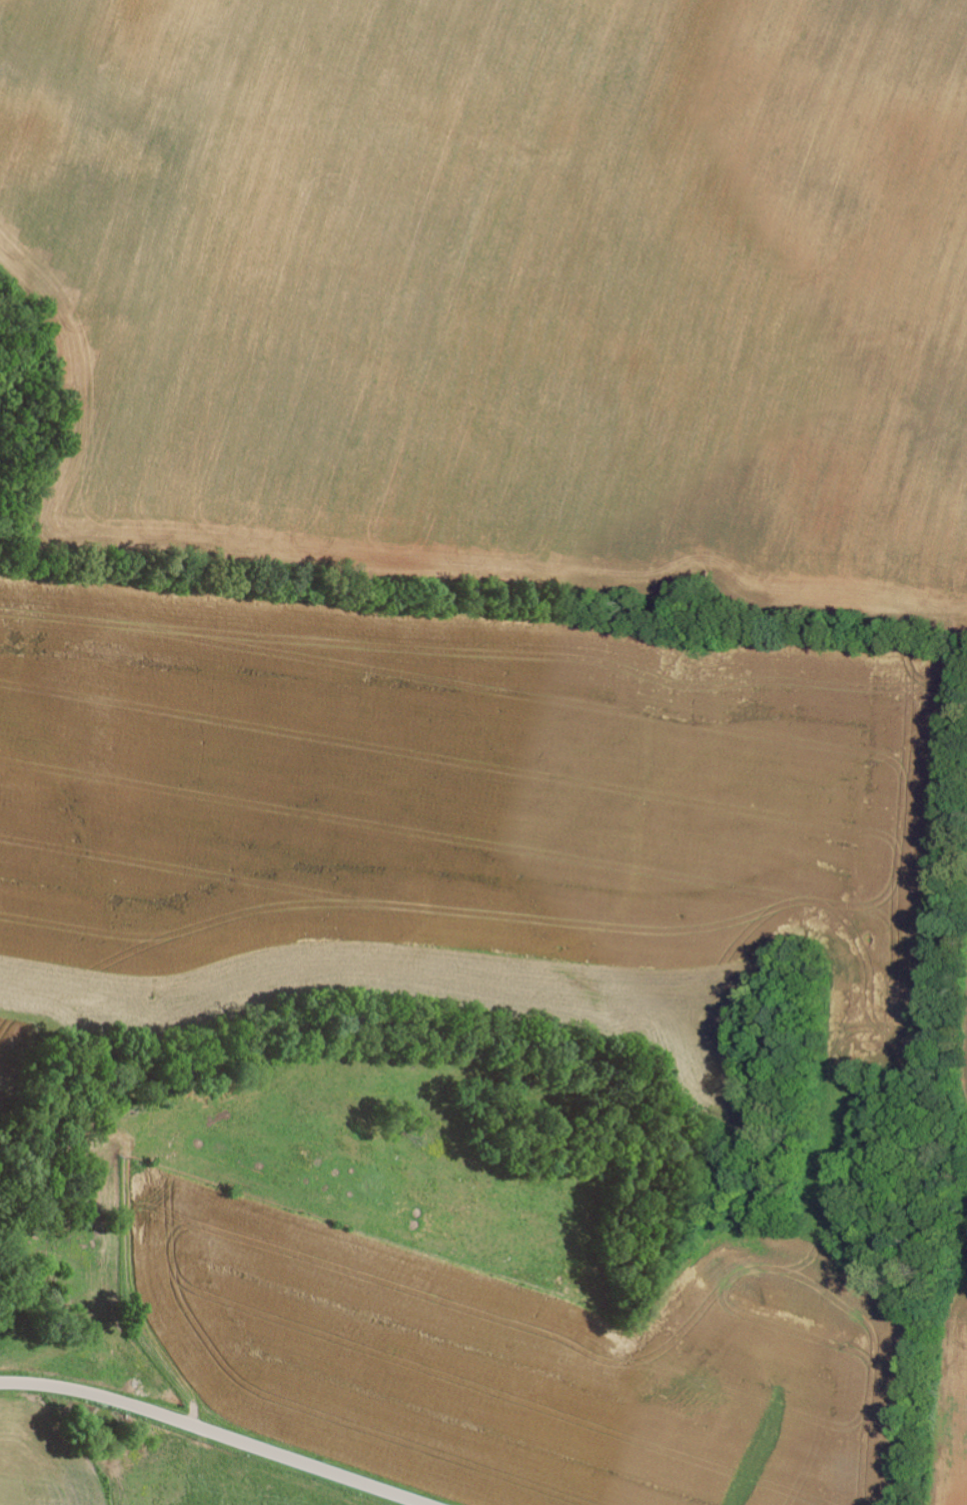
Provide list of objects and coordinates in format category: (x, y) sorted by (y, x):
road: (212, 1434)

